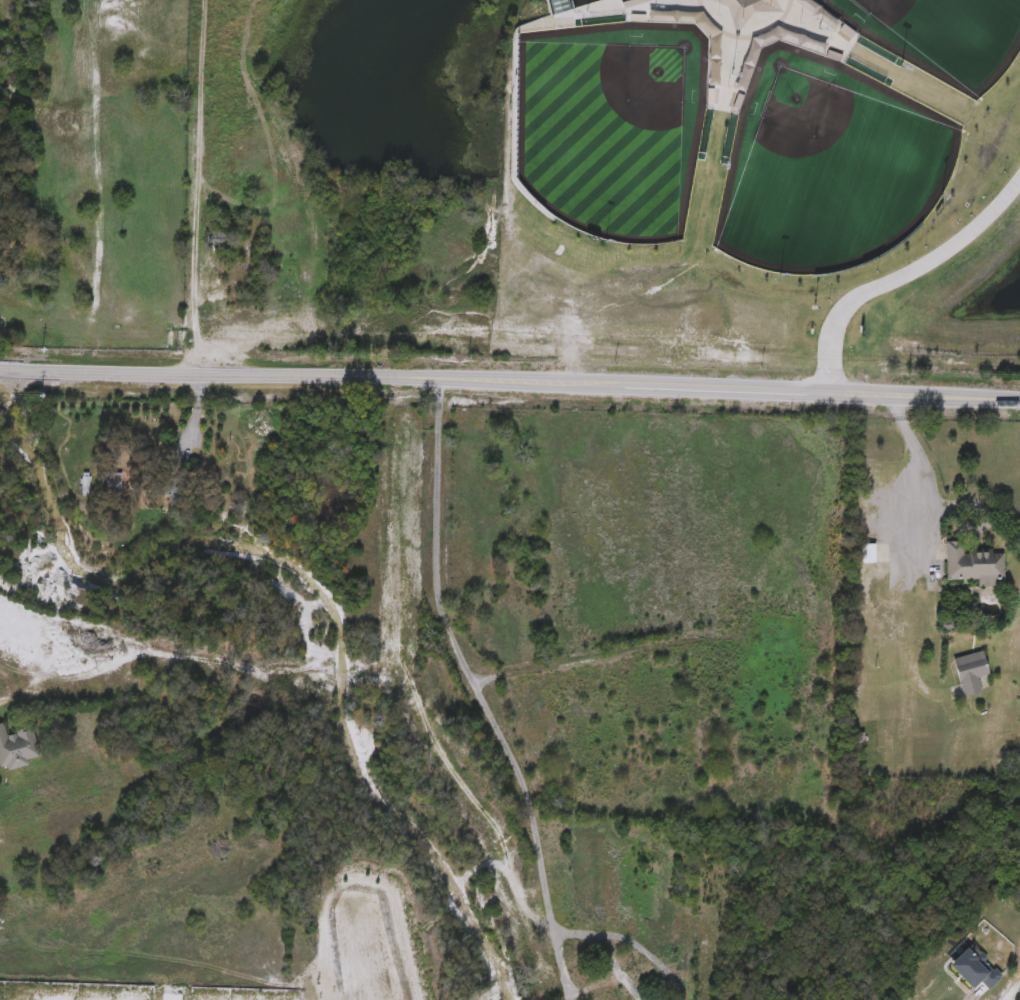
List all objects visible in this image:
park: (601, 18)
park: (939, 36)
park: (823, 167)
road: (190, 176)
building: (892, 237)
building: (220, 240)
road: (912, 273)
road: (510, 379)
road: (913, 472)
building: (101, 481)
building: (868, 554)
building: (975, 564)
building: (782, 634)
building: (973, 672)
road: (479, 691)
building: (17, 748)
road: (568, 936)
road: (639, 951)
road: (609, 967)
building: (967, 971)
building: (601, 993)
road: (171, 999)

